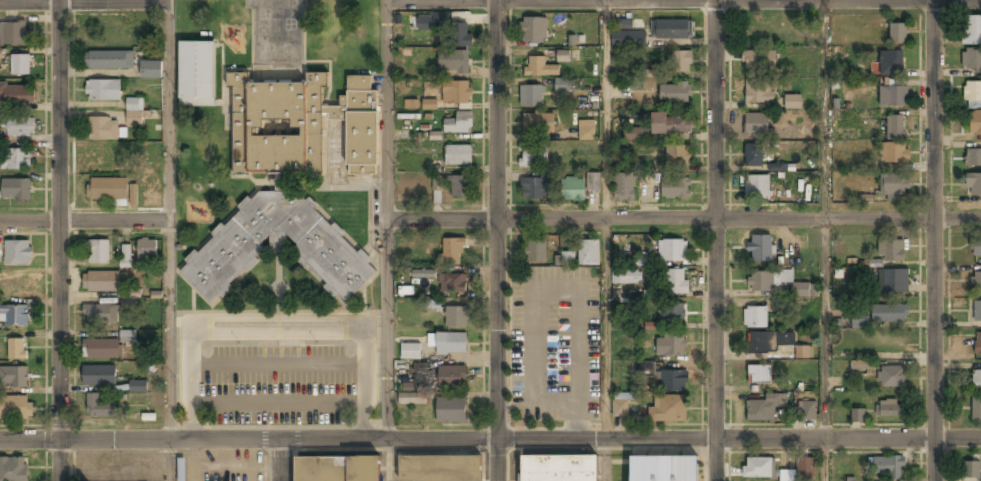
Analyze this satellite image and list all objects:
road: (84, 1)
road: (605, 2)
building: (425, 24)
building: (624, 24)
building: (671, 30)
building: (972, 30)
building: (533, 31)
building: (13, 33)
building: (897, 34)
building: (460, 35)
building: (628, 40)
building: (563, 55)
building: (109, 60)
building: (758, 60)
building: (891, 60)
building: (971, 61)
building: (453, 62)
building: (681, 62)
building: (20, 64)
building: (538, 67)
building: (151, 71)
building: (196, 75)
building: (648, 83)
building: (561, 86)
building: (103, 91)
building: (17, 93)
building: (456, 93)
building: (758, 93)
building: (972, 93)
building: (674, 94)
building: (531, 96)
building: (892, 97)
building: (792, 101)
building: (411, 103)
building: (429, 104)
road: (167, 109)
road: (383, 110)
building: (134, 113)
building: (975, 122)
building: (459, 123)
building: (538, 123)
building: (670, 124)
building: (756, 125)
building: (19, 127)
building: (300, 127)
building: (895, 129)
building: (103, 130)
building: (586, 131)
building: (635, 133)
building: (894, 154)
building: (100, 155)
building: (677, 155)
building: (458, 156)
building: (752, 156)
building: (533, 157)
building: (973, 158)
building: (16, 159)
building: (777, 167)
building: (436, 182)
building: (593, 182)
building: (973, 185)
building: (459, 188)
building: (757, 188)
building: (894, 188)
building: (16, 189)
building: (534, 189)
building: (572, 189)
building: (624, 189)
building: (675, 189)
building: (108, 190)
building: (152, 190)
building: (133, 194)
road: (605, 219)
road: (825, 219)
road: (83, 220)
road: (681, 221)
road: (59, 240)
road: (496, 240)
road: (716, 240)
road: (936, 240)
building: (760, 248)
building: (976, 248)
building: (147, 250)
building: (890, 250)
building: (672, 251)
building: (18, 252)
building: (98, 252)
building: (535, 252)
building: (0, 253)
building: (452, 253)
building: (588, 253)
building: (227, 254)
building: (125, 257)
building: (567, 258)
building: (423, 273)
building: (627, 277)
building: (766, 280)
building: (893, 281)
building: (976, 281)
building: (100, 282)
building: (676, 282)
building: (16, 284)
building: (452, 284)
building: (805, 291)
building: (131, 293)
building: (649, 294)
building: (433, 304)
building: (977, 311)
building: (889, 313)
building: (100, 314)
building: (671, 314)
building: (16, 315)
building: (456, 318)
building: (755, 318)
building: (859, 321)
road: (169, 330)
road: (383, 331)
building: (128, 337)
building: (769, 342)
building: (451, 344)
building: (978, 344)
building: (671, 346)
building: (18, 349)
building: (101, 350)
building: (411, 352)
building: (803, 353)
building: (861, 365)
building: (644, 367)
building: (758, 375)
building: (891, 376)
building: (14, 377)
building: (99, 377)
building: (452, 378)
building: (976, 380)
building: (673, 382)
building: (137, 385)
building: (412, 399)
building: (620, 404)
building: (976, 407)
building: (15, 408)
building: (99, 408)
building: (764, 408)
building: (668, 409)
building: (890, 409)
building: (452, 411)
building: (808, 412)
building: (857, 415)
road: (683, 438)
road: (140, 440)
road: (332, 440)
road: (171, 460)
road: (280, 460)
road: (605, 460)
road: (826, 460)
road: (385, 461)
building: (439, 468)
building: (558, 468)
building: (759, 468)
building: (887, 468)
building: (336, 469)
building: (663, 469)
building: (13, 470)
building: (799, 471)
building: (970, 471)

